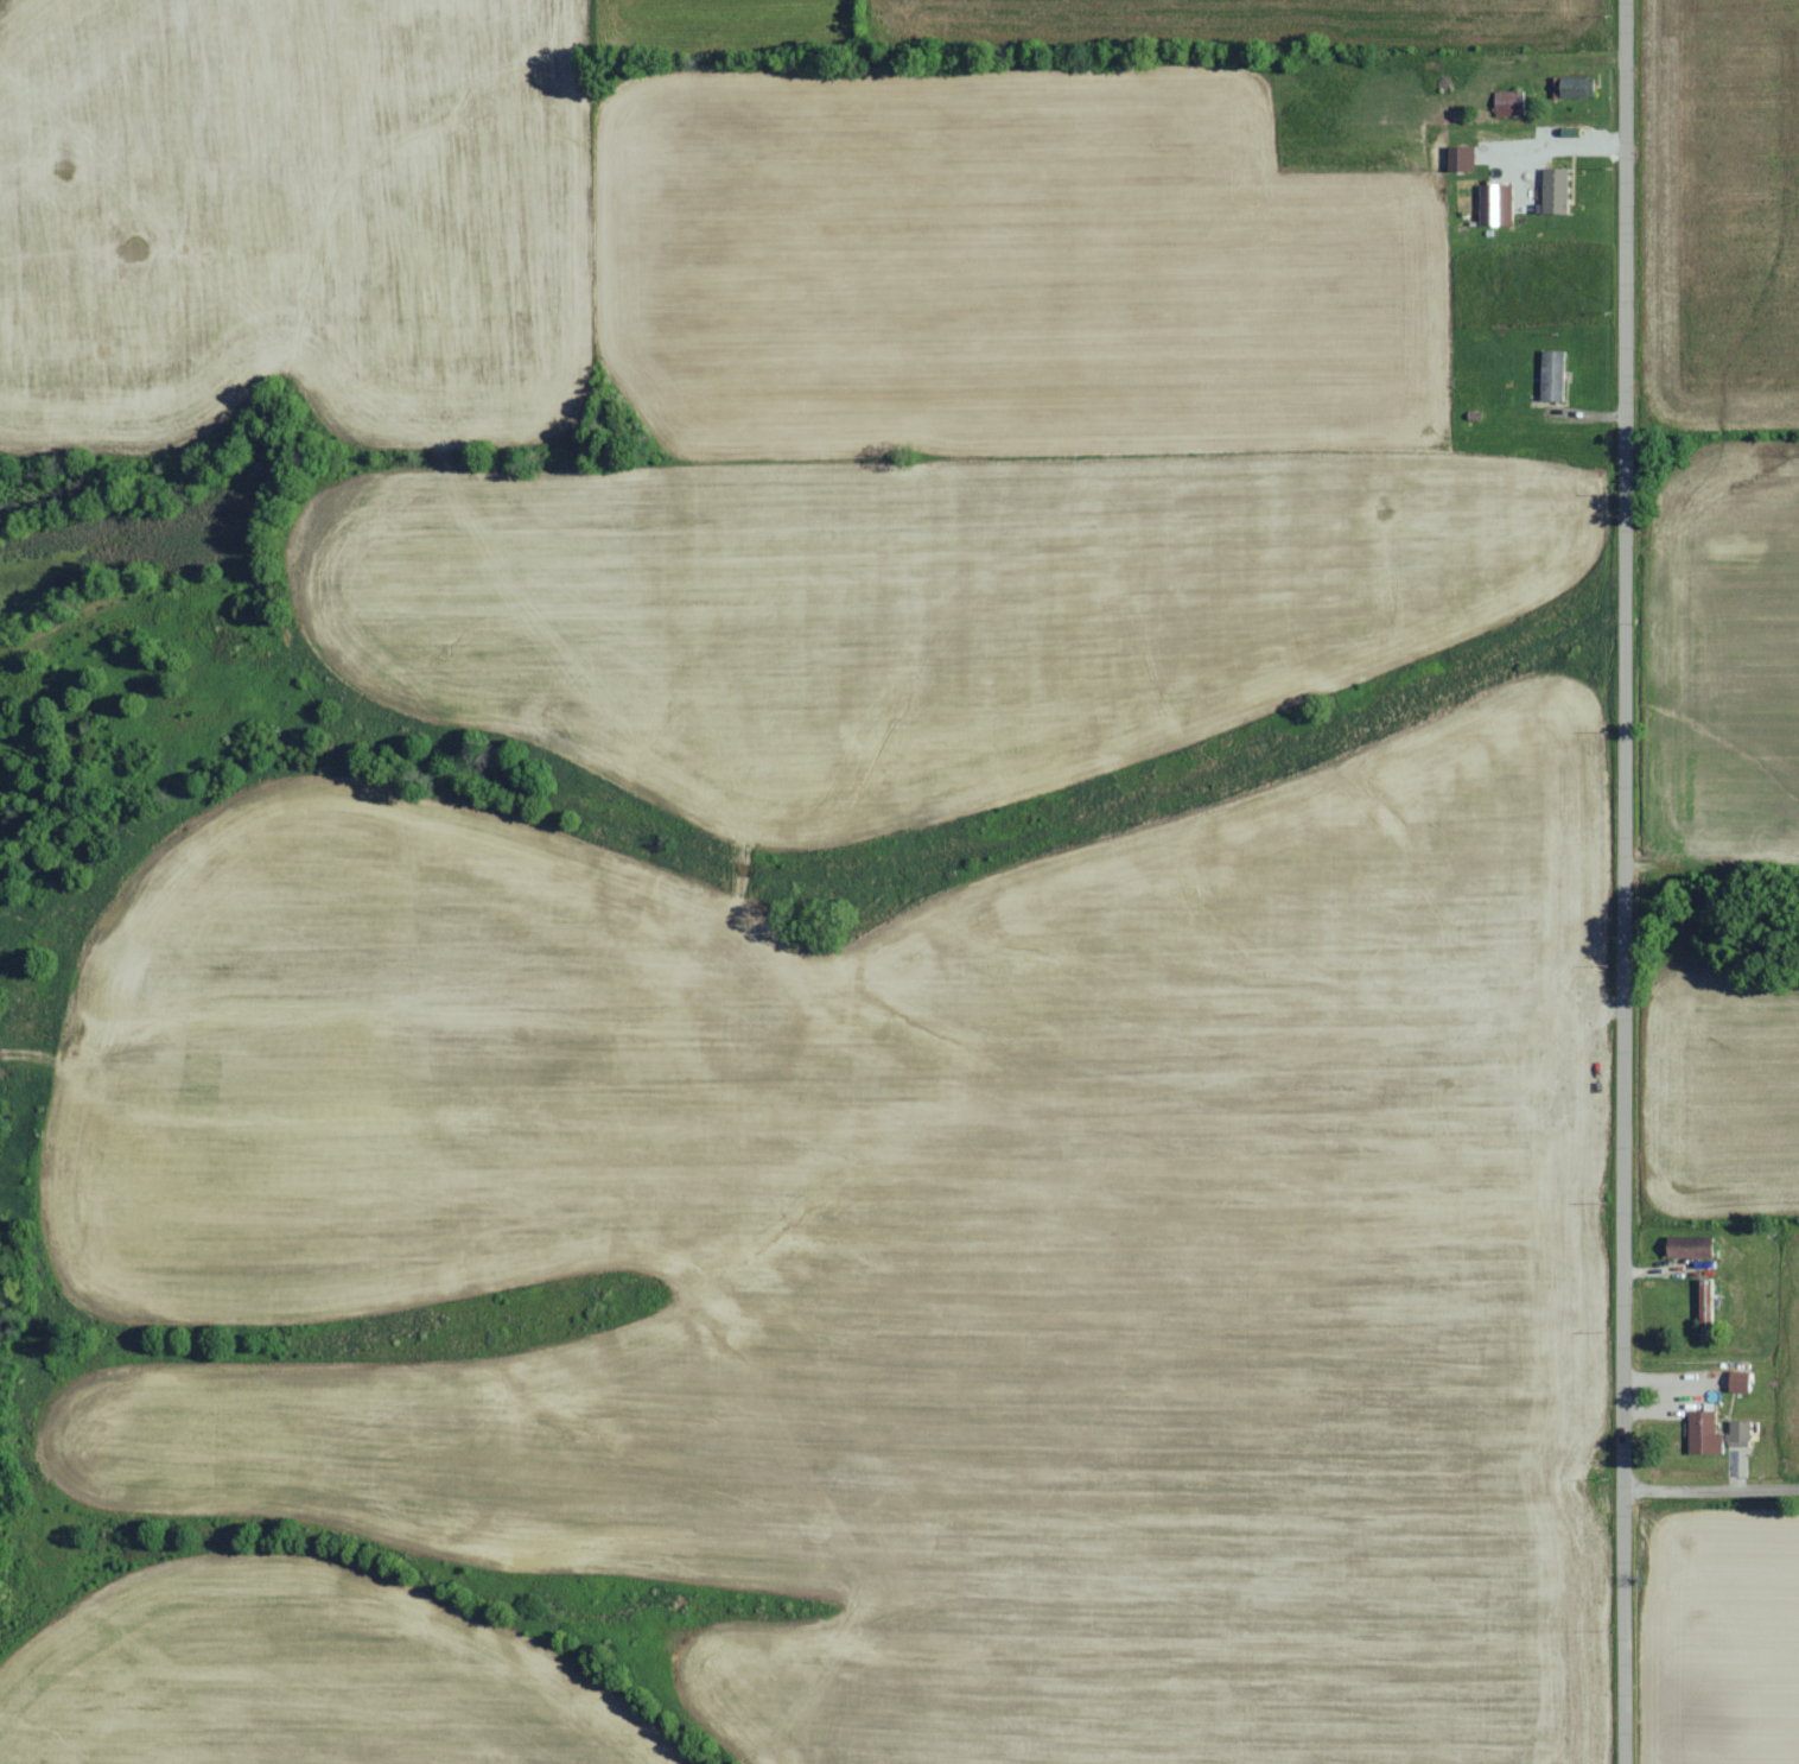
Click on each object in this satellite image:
building: (1575, 88)
building: (1509, 103)
building: (1463, 159)
building: (1557, 190)
building: (1498, 205)
building: (1553, 376)
road: (1626, 882)
building: (1692, 1246)
building: (1741, 1381)
building: (1705, 1433)
building: (1741, 1433)
road: (1712, 1493)

